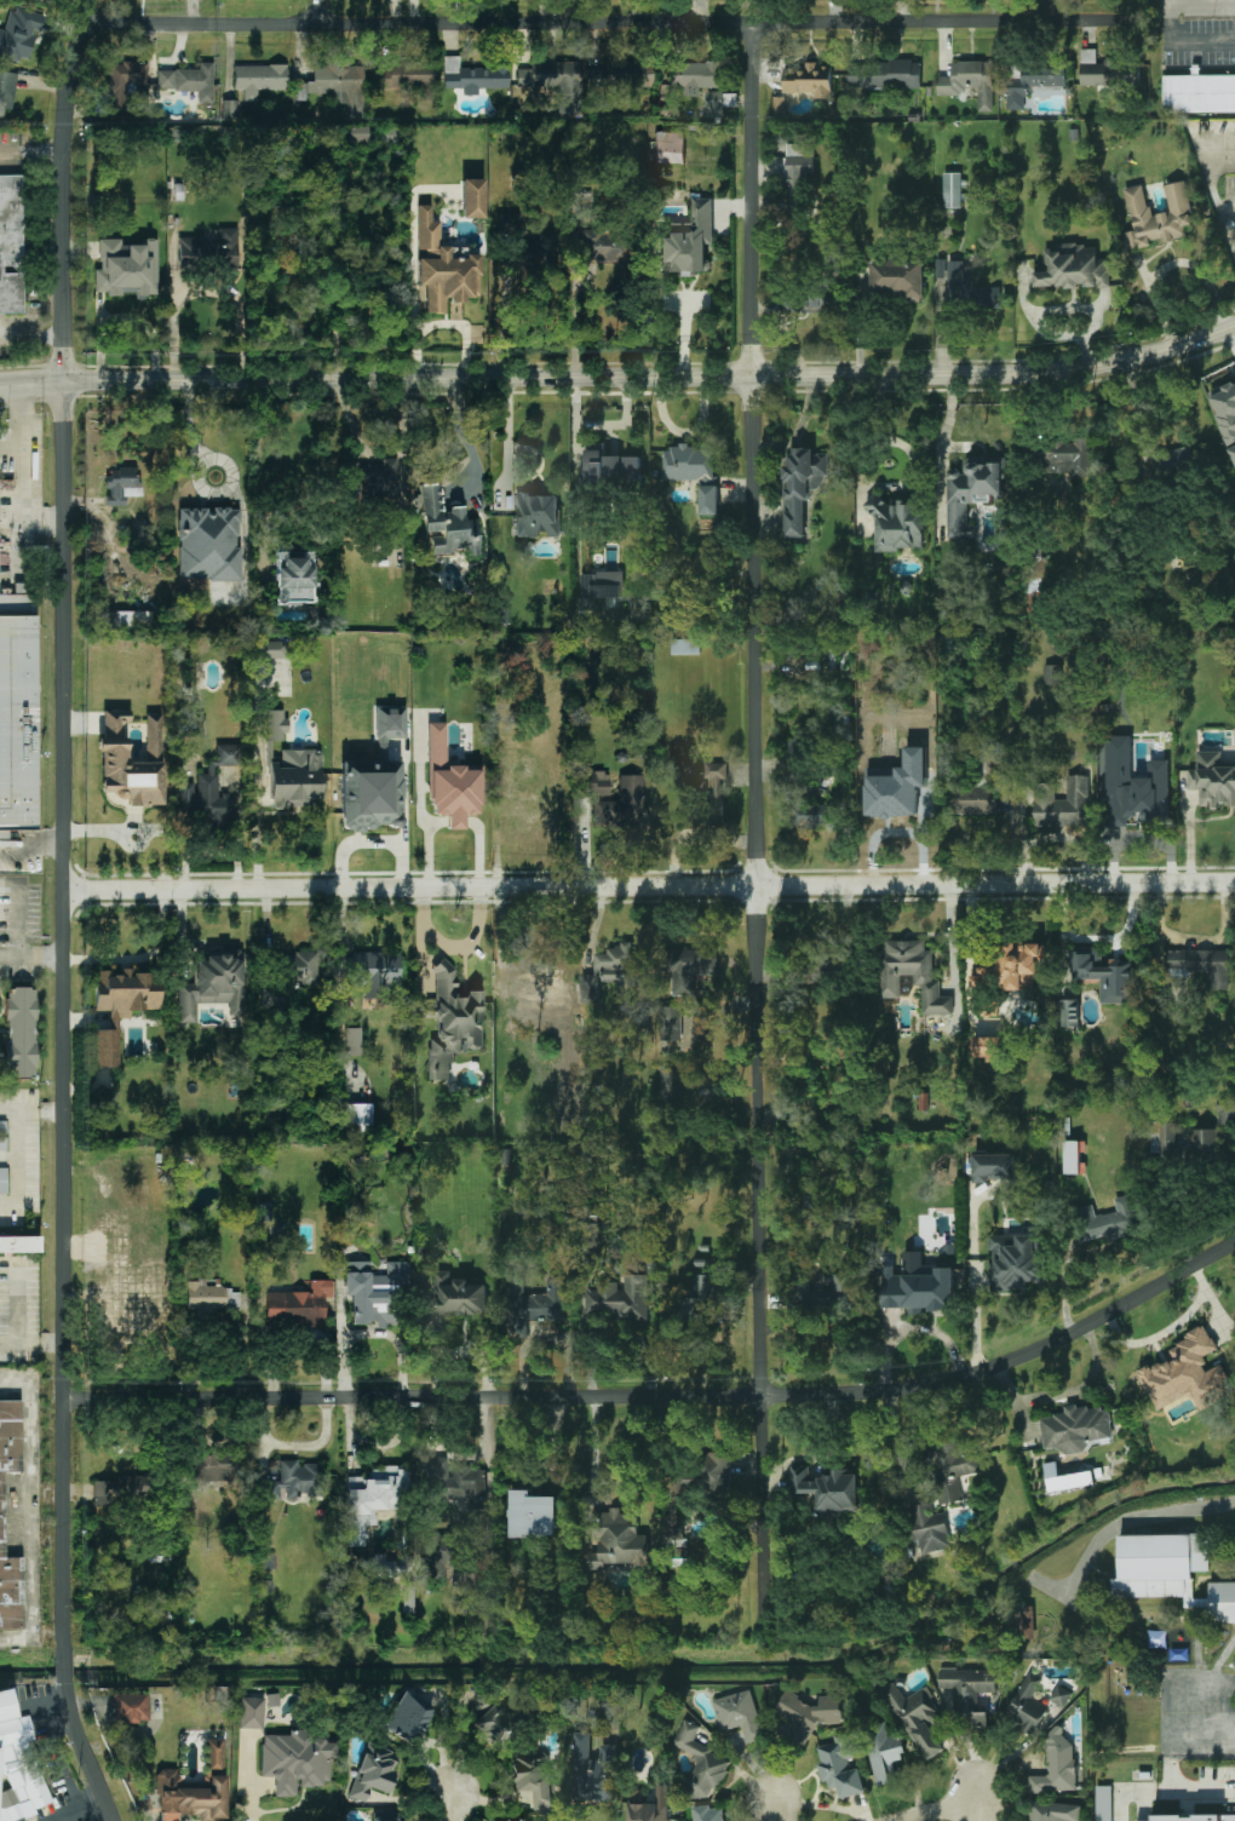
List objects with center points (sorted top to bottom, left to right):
building: (41, 1)
road: (1194, 7)
road: (1055, 10)
road: (322, 11)
road: (622, 21)
road: (1194, 31)
building: (19, 34)
road: (1201, 52)
building: (1105, 70)
building: (884, 74)
building: (408, 76)
building: (473, 76)
building: (694, 76)
building: (621, 77)
building: (259, 79)
building: (809, 79)
building: (189, 81)
building: (970, 81)
building: (557, 82)
building: (125, 84)
building: (1033, 84)
building: (340, 85)
building: (7, 91)
building: (1199, 93)
building: (718, 103)
building: (230, 109)
building: (358, 134)
building: (670, 147)
road: (30, 148)
road: (1229, 151)
building: (797, 172)
building: (952, 189)
road: (1214, 196)
building: (471, 199)
road: (1225, 201)
building: (1156, 216)
building: (687, 239)
building: (545, 242)
building: (12, 245)
building: (602, 246)
building: (226, 248)
building: (190, 251)
building: (286, 264)
building: (443, 266)
building: (1073, 266)
building: (126, 268)
building: (897, 276)
road: (208, 291)
building: (805, 299)
road: (1039, 314)
road: (505, 323)
road: (575, 323)
road: (1231, 334)
road: (33, 335)
road: (620, 378)
building: (1225, 409)
road: (685, 429)
road: (943, 433)
road: (193, 437)
road: (464, 437)
road: (13, 447)
parking lot: (5, 449)
building: (1231, 453)
building: (1064, 455)
building: (1173, 459)
building: (688, 463)
building: (610, 465)
road: (27, 467)
building: (377, 477)
building: (120, 484)
building: (800, 486)
building: (970, 490)
building: (708, 499)
building: (536, 515)
building: (446, 524)
building: (897, 524)
building: (208, 544)
building: (292, 578)
building: (840, 597)
building: (15, 607)
building: (127, 620)
building: (684, 644)
building: (1156, 648)
building: (271, 650)
building: (833, 659)
building: (1052, 673)
building: (16, 725)
building: (276, 725)
building: (113, 741)
building: (295, 777)
building: (1212, 780)
building: (450, 782)
building: (897, 786)
building: (1133, 786)
building: (209, 792)
building: (975, 792)
building: (369, 794)
building: (707, 797)
building: (631, 798)
building: (802, 802)
building: (1062, 803)
road: (65, 820)
road: (455, 820)
road: (436, 821)
road: (759, 821)
road: (424, 822)
road: (479, 846)
road: (33, 848)
parking lot: (21, 863)
road: (650, 884)
road: (19, 935)
road: (1095, 938)
building: (1019, 964)
building: (1201, 964)
building: (304, 967)
building: (688, 969)
building: (375, 971)
building: (609, 971)
building: (805, 971)
building: (912, 972)
building: (1103, 972)
building: (983, 973)
building: (212, 986)
building: (275, 996)
building: (121, 1006)
building: (1069, 1011)
building: (452, 1021)
building: (670, 1022)
building: (19, 1033)
building: (352, 1041)
building: (986, 1046)
building: (670, 1082)
building: (1225, 1108)
road: (33, 1109)
building: (356, 1119)
building: (2, 1136)
building: (1204, 1137)
road: (21, 1144)
building: (1073, 1156)
building: (993, 1166)
building: (2, 1181)
road: (19, 1190)
building: (1107, 1219)
building: (19, 1245)
building: (1013, 1262)
building: (918, 1285)
building: (823, 1288)
building: (375, 1294)
building: (209, 1297)
building: (620, 1297)
building: (454, 1299)
building: (536, 1300)
building: (696, 1302)
building: (298, 1305)
road: (912, 1329)
road: (33, 1343)
building: (1185, 1373)
road: (666, 1394)
road: (1065, 1396)
building: (1075, 1427)
road: (896, 1440)
road: (596, 1449)
road: (828, 1455)
building: (952, 1466)
building: (209, 1469)
building: (707, 1470)
building: (1065, 1477)
building: (294, 1481)
building: (454, 1481)
building: (826, 1487)
building: (122, 1490)
building: (370, 1499)
building: (533, 1512)
building: (1, 1515)
road: (36, 1515)
building: (929, 1528)
road: (1119, 1528)
building: (438, 1556)
building: (1162, 1562)
building: (1223, 1602)
road: (1121, 1618)
building: (1023, 1621)
road: (65, 1664)
road: (1219, 1664)
road: (1197, 1665)
road: (1218, 1691)
building: (967, 1694)
building: (1061, 1695)
building: (483, 1699)
building: (271, 1700)
building: (1026, 1705)
building: (130, 1708)
building: (251, 1712)
building: (739, 1713)
building: (808, 1714)
building: (1156, 1717)
parking lot: (1195, 1717)
building: (408, 1718)
building: (918, 1718)
building: (495, 1725)
road: (1201, 1736)
road: (966, 1745)
building: (883, 1751)
road: (86, 1752)
building: (214, 1753)
building: (295, 1760)
building: (701, 1763)
building: (840, 1764)
building: (1056, 1764)
building: (18, 1765)
building: (593, 1770)
building: (373, 1774)
building: (533, 1777)
road: (1168, 1780)
road: (251, 1781)
parking lot: (1217, 1781)
road: (1195, 1792)
road: (1124, 1793)
building: (190, 1797)
road: (454, 1798)
building: (1103, 1803)
road: (779, 1809)
road: (946, 1809)
building: (647, 1811)
building: (1052, 1811)
building: (1190, 1811)
building: (710, 1813)
building: (1229, 1815)
building: (384, 1816)
building: (515, 1820)

